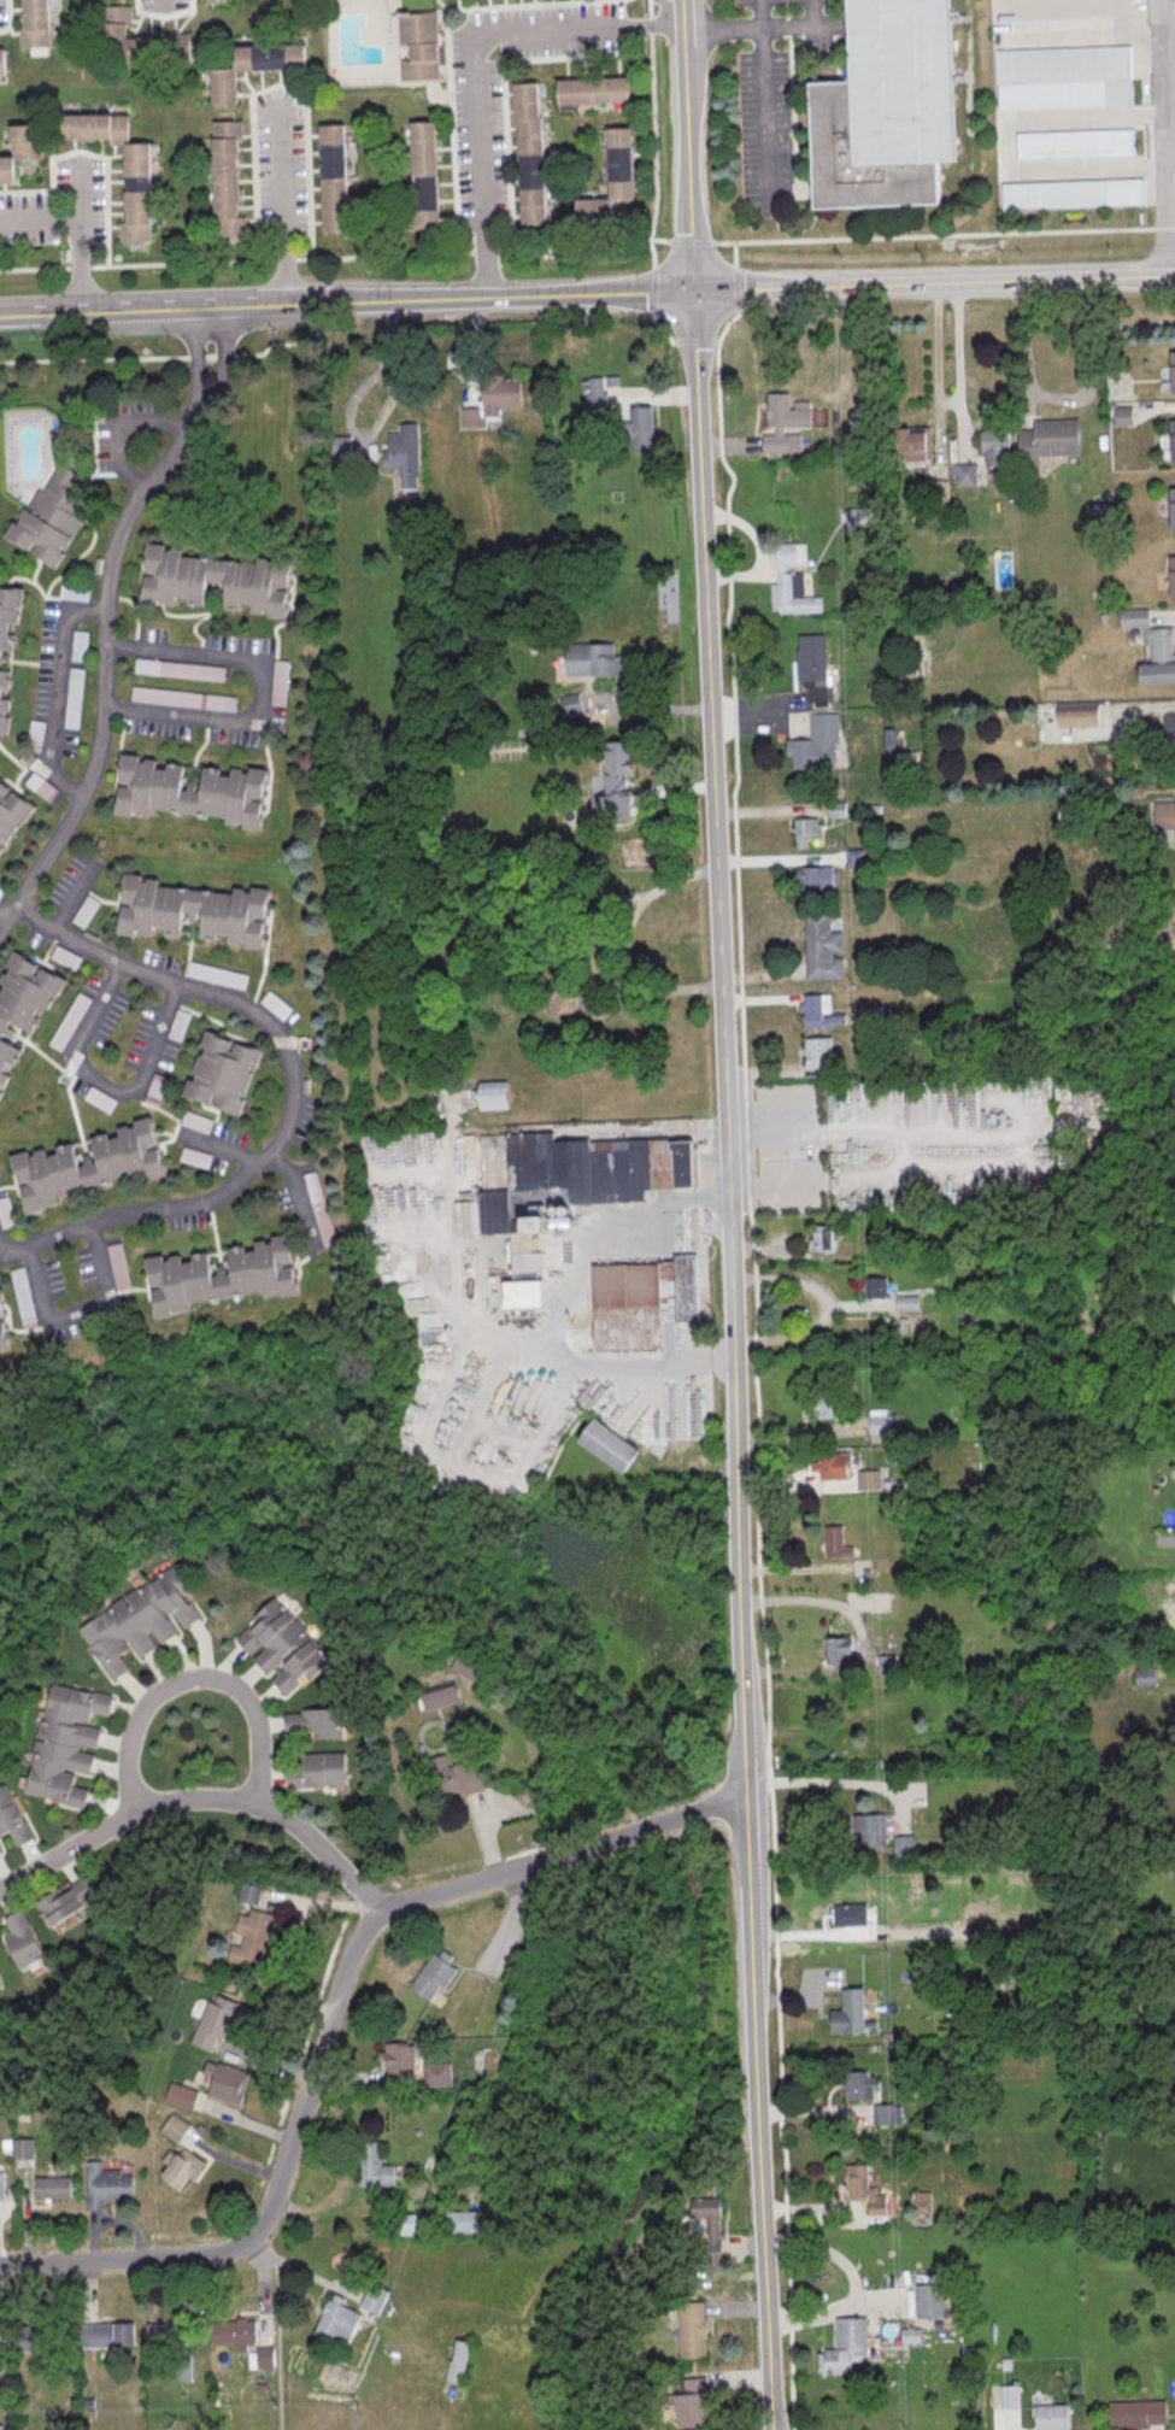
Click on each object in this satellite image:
parking lot: (775, 2)
road: (163, 4)
parking lot: (160, 5)
road: (651, 12)
road: (663, 12)
parking lot: (1, 13)
building: (34, 24)
road: (793, 24)
road: (733, 28)
road: (1151, 35)
road: (1053, 37)
building: (139, 39)
building: (418, 47)
building: (1, 63)
road: (470, 64)
building: (253, 69)
building: (1067, 77)
road: (275, 86)
building: (592, 93)
road: (762, 104)
building: (892, 108)
road: (1151, 113)
parking lot: (762, 125)
road: (1159, 137)
parking lot: (476, 141)
building: (1077, 146)
road: (1005, 147)
building: (19, 152)
road: (89, 153)
building: (528, 155)
parking lot: (278, 168)
road: (1155, 168)
building: (423, 176)
building: (225, 178)
building: (610, 180)
building: (331, 181)
building: (135, 184)
building: (1075, 194)
road: (280, 198)
parking lot: (23, 199)
road: (37, 219)
road: (945, 235)
road: (75, 240)
road: (694, 243)
road: (336, 257)
traffic signals: (694, 292)
road: (627, 293)
road: (40, 315)
road: (158, 357)
building: (1171, 372)
building: (595, 399)
road: (1061, 399)
building: (492, 400)
road: (948, 403)
building: (788, 411)
road: (118, 424)
building: (642, 429)
building: (1046, 441)
building: (1171, 441)
building: (913, 444)
building: (995, 448)
building: (405, 452)
building: (965, 474)
building: (936, 495)
building: (1171, 510)
building: (863, 515)
building: (52, 521)
building: (407, 547)
building: (215, 579)
building: (1171, 579)
building: (788, 585)
building: (74, 592)
road: (107, 604)
building: (10, 612)
road: (1161, 616)
building: (80, 645)
building: (1152, 648)
building: (593, 658)
building: (811, 668)
building: (180, 669)
building: (280, 682)
road: (57, 689)
road: (263, 689)
building: (74, 697)
building: (183, 698)
building: (4, 700)
building: (569, 703)
road: (746, 715)
building: (1077, 716)
building: (1168, 732)
building: (813, 744)
building: (617, 757)
building: (41, 786)
building: (189, 791)
building: (12, 814)
building: (1163, 816)
building: (806, 829)
building: (810, 877)
building: (1174, 909)
building: (86, 910)
building: (195, 910)
road: (2, 916)
building: (819, 946)
building: (65, 956)
building: (217, 974)
building: (24, 1000)
building: (565, 1000)
building: (818, 1011)
building: (71, 1021)
building: (180, 1025)
building: (818, 1051)
building: (223, 1072)
road: (293, 1081)
road: (106, 1085)
building: (157, 1088)
building: (1, 1093)
building: (493, 1097)
building: (101, 1098)
building: (198, 1121)
road: (874, 1129)
road: (219, 1147)
building: (196, 1156)
building: (87, 1164)
building: (581, 1178)
road: (301, 1192)
road: (706, 1193)
building: (319, 1208)
building: (6, 1211)
road: (729, 1214)
building: (821, 1238)
building: (119, 1264)
building: (221, 1274)
road: (786, 1278)
building: (876, 1286)
building: (525, 1295)
building: (642, 1301)
building: (906, 1302)
road: (80, 1311)
road: (564, 1313)
building: (2, 1326)
road: (809, 1328)
road: (711, 1360)
building: (828, 1408)
building: (882, 1424)
building: (609, 1446)
building: (834, 1465)
building: (869, 1478)
building: (1173, 1481)
building: (832, 1540)
road: (804, 1598)
building: (140, 1619)
building: (281, 1647)
building: (838, 1650)
building: (470, 1667)
road: (193, 1677)
building: (440, 1697)
building: (315, 1722)
building: (65, 1742)
building: (317, 1769)
building: (456, 1777)
road: (823, 1782)
road: (723, 1803)
building: (12, 1816)
road: (119, 1818)
road: (674, 1820)
building: (876, 1824)
building: (904, 1844)
building: (0, 1848)
road: (323, 1849)
building: (249, 1892)
building: (66, 1900)
building: (857, 1914)
building: (247, 1936)
building: (22, 1937)
building: (430, 1973)
building: (0, 1983)
building: (846, 2012)
building: (211, 2020)
building: (400, 2058)
road: (315, 2065)
building: (439, 2073)
building: (228, 2082)
building: (857, 2084)
building: (181, 2094)
building: (887, 2113)
building: (171, 2126)
building: (177, 2165)
building: (374, 2166)
building: (102, 2185)
building: (49, 2187)
building: (860, 2187)
building: (0, 2189)
building: (922, 2202)
building: (474, 2220)
building: (707, 2227)
road: (824, 2250)
building: (371, 2297)
building: (926, 2300)
road: (838, 2308)
building: (334, 2320)
building: (693, 2329)
road: (278, 2330)
building: (104, 2334)
building: (159, 2334)
building: (907, 2334)
building: (33, 2337)
building: (0, 2338)
building: (243, 2340)
building: (842, 2344)
building: (459, 2360)
building: (1006, 2395)
building: (691, 2402)
building: (1133, 2413)
building: (1048, 2417)
building: (0, 2426)

